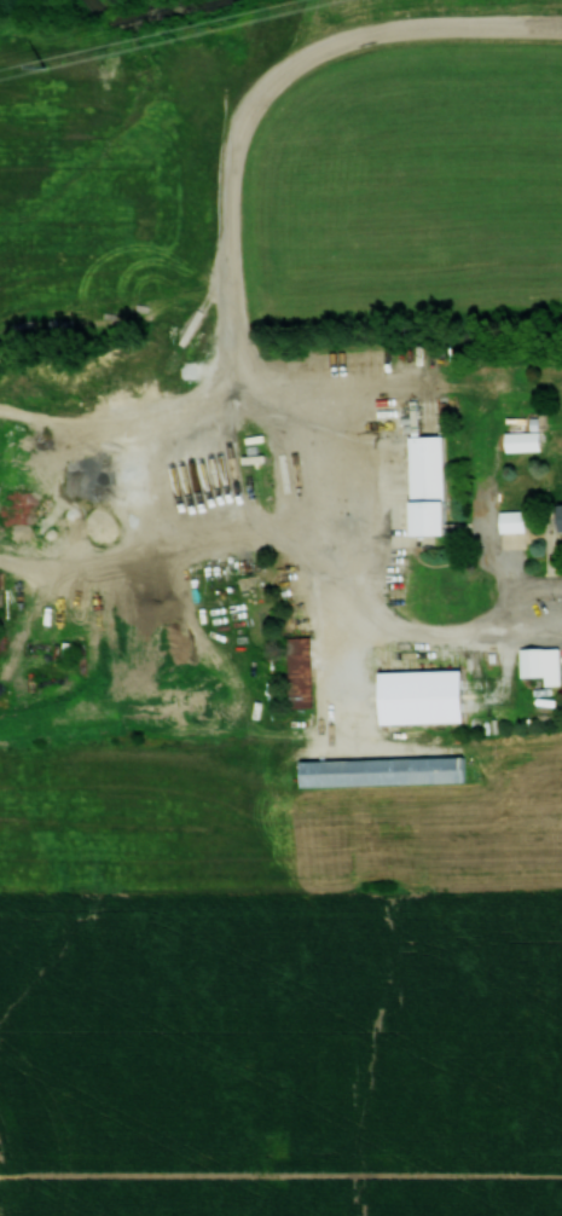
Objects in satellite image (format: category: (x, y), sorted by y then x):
power tower: (44, 68)
road: (238, 336)
building: (522, 440)
building: (427, 485)
building: (561, 517)
building: (511, 521)
building: (540, 664)
building: (299, 671)
building: (421, 696)
building: (382, 770)

